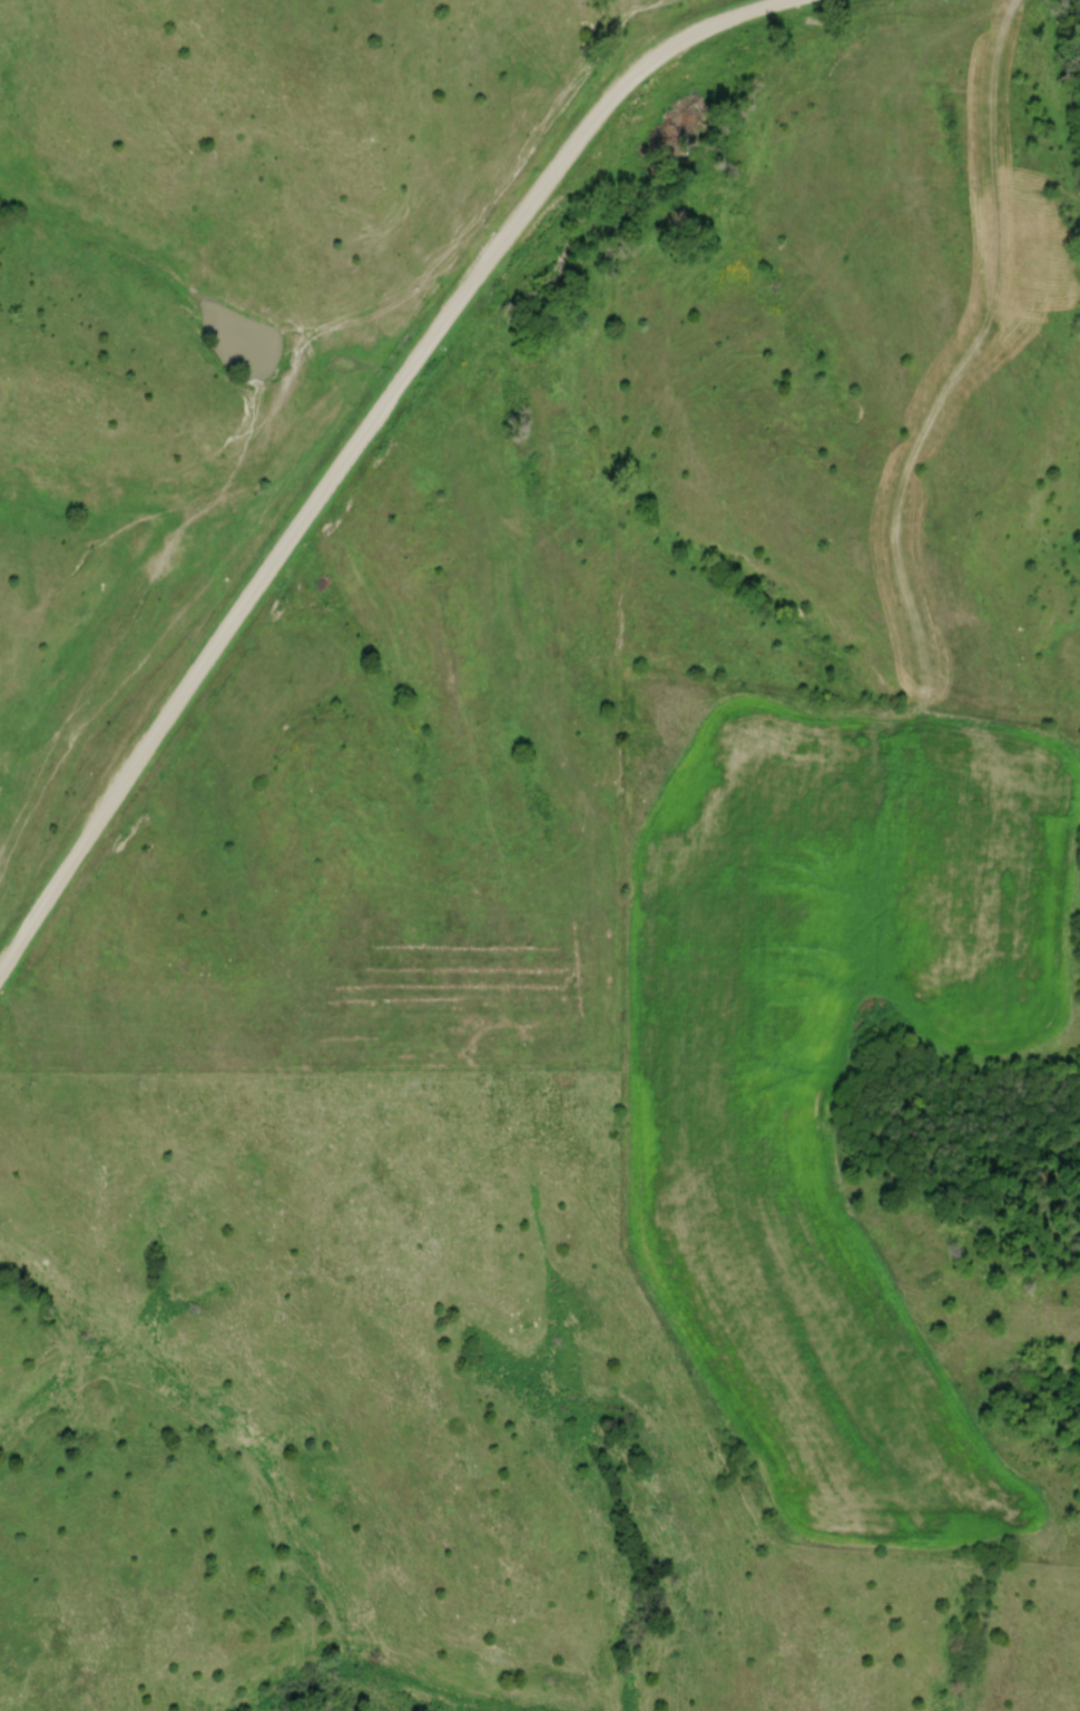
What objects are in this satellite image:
road: (357, 441)

